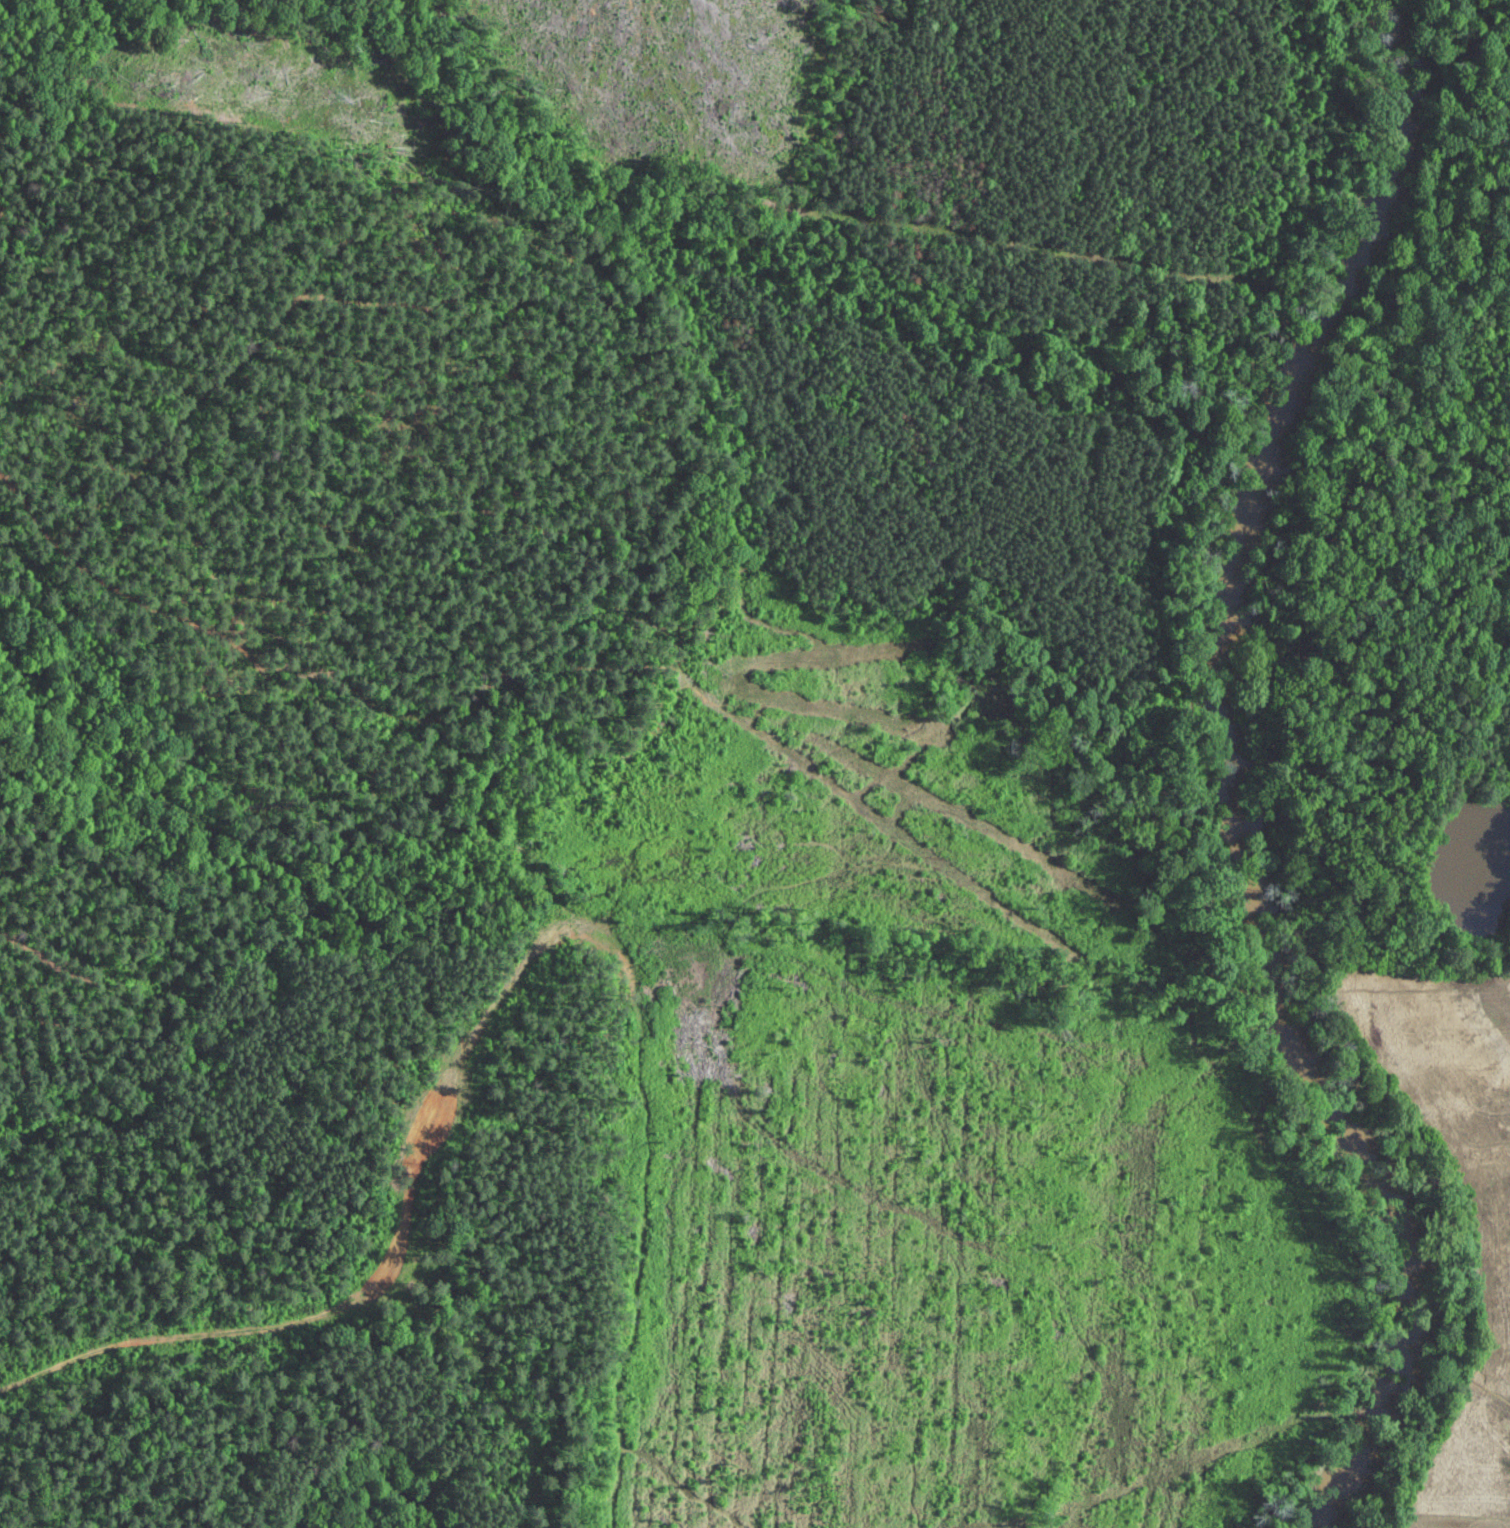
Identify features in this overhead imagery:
river: (1194, 775)

